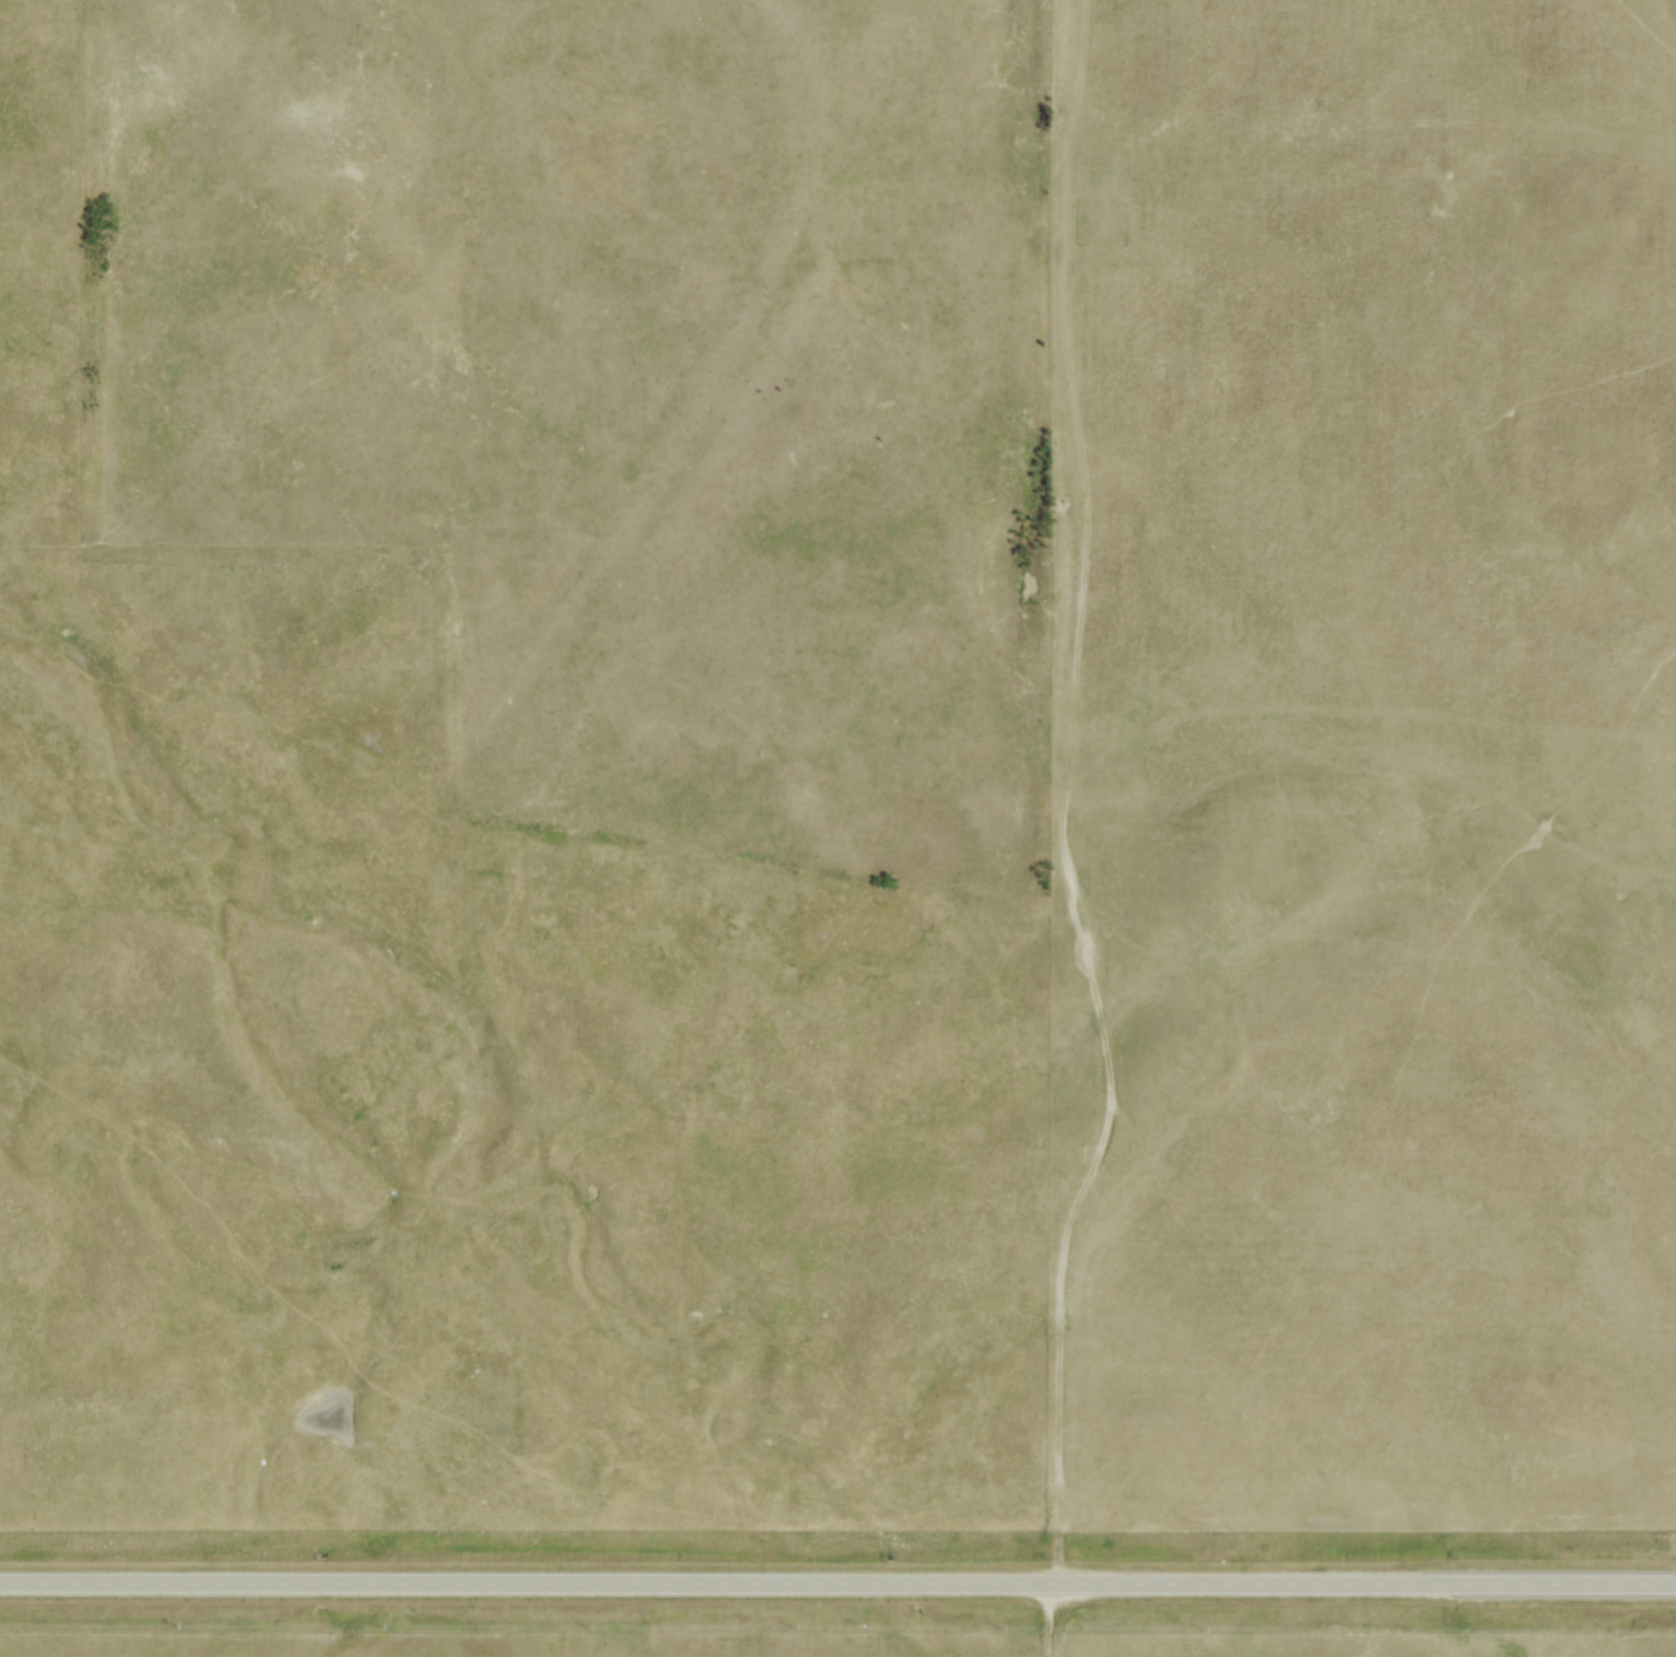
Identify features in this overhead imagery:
road: (837, 1580)

